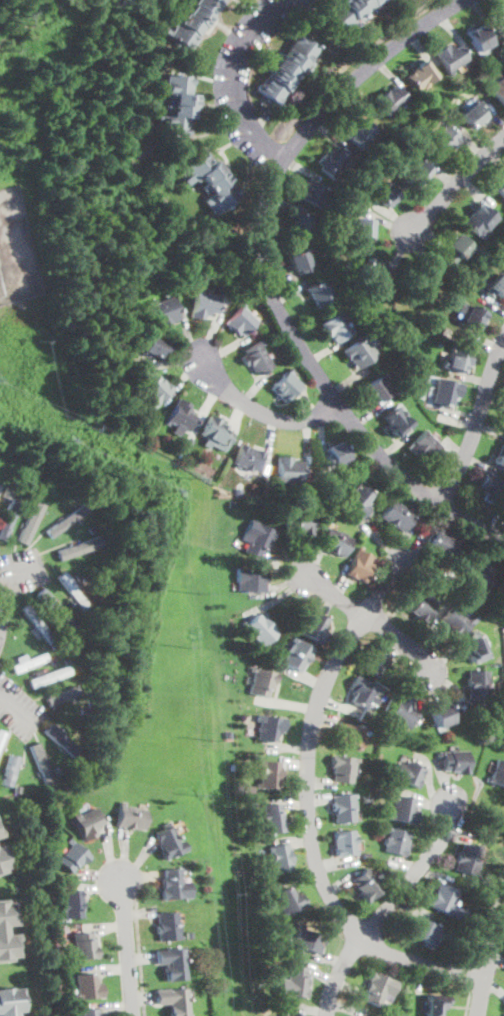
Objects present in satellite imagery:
building: (348, 12)
building: (193, 22)
building: (478, 38)
building: (450, 57)
building: (286, 70)
building: (420, 75)
road: (236, 80)
building: (498, 89)
building: (391, 101)
building: (178, 104)
building: (473, 114)
building: (357, 132)
building: (444, 139)
building: (333, 161)
building: (415, 172)
building: (212, 181)
road: (457, 184)
building: (500, 189)
building: (311, 194)
building: (385, 195)
building: (343, 203)
building: (478, 219)
building: (301, 225)
building: (362, 228)
building: (456, 248)
building: (299, 261)
building: (344, 264)
building: (371, 270)
road: (266, 276)
building: (424, 279)
building: (496, 287)
building: (319, 293)
building: (206, 303)
building: (462, 307)
building: (165, 310)
building: (474, 317)
building: (241, 321)
building: (336, 326)
building: (401, 335)
building: (153, 347)
building: (359, 352)
building: (256, 358)
building: (457, 360)
building: (419, 378)
building: (286, 386)
building: (379, 386)
building: (156, 392)
building: (445, 393)
road: (257, 410)
building: (181, 417)
building: (397, 421)
road: (477, 422)
building: (215, 433)
building: (188, 441)
building: (425, 446)
building: (334, 454)
building: (248, 458)
building: (500, 459)
building: (289, 470)
building: (491, 489)
building: (237, 490)
building: (6, 491)
building: (358, 500)
building: (397, 516)
building: (8, 517)
building: (66, 518)
building: (29, 520)
building: (298, 521)
building: (256, 538)
building: (333, 540)
building: (442, 544)
building: (62, 552)
building: (359, 565)
parking lot: (24, 569)
road: (20, 570)
building: (478, 580)
building: (249, 581)
building: (68, 585)
building: (421, 606)
building: (53, 608)
building: (40, 615)
building: (458, 620)
road: (372, 621)
building: (37, 624)
building: (313, 627)
building: (259, 628)
building: (56, 634)
building: (476, 649)
building: (298, 654)
building: (52, 659)
building: (374, 660)
building: (29, 661)
building: (74, 666)
building: (49, 676)
building: (390, 677)
building: (261, 681)
building: (478, 685)
building: (361, 691)
building: (62, 695)
parking lot: (18, 708)
road: (18, 712)
building: (401, 712)
building: (439, 714)
building: (268, 726)
building: (227, 734)
building: (348, 735)
building: (2, 736)
building: (64, 743)
building: (454, 760)
building: (38, 763)
building: (342, 769)
building: (9, 772)
building: (407, 773)
building: (50, 774)
building: (269, 774)
building: (497, 774)
building: (17, 788)
building: (365, 798)
road: (308, 803)
building: (343, 807)
building: (402, 810)
building: (131, 817)
building: (272, 819)
building: (87, 822)
building: (1, 834)
building: (395, 841)
building: (168, 842)
building: (344, 843)
building: (365, 854)
building: (72, 856)
building: (3, 858)
building: (279, 859)
building: (467, 860)
building: (365, 884)
building: (174, 885)
building: (443, 900)
building: (288, 901)
building: (72, 903)
road: (387, 908)
road: (489, 921)
building: (167, 926)
building: (3, 929)
building: (423, 931)
building: (308, 939)
building: (83, 946)
road: (129, 948)
road: (139, 961)
building: (172, 963)
road: (489, 969)
road: (471, 976)
building: (293, 983)
building: (87, 988)
building: (379, 989)
building: (173, 1000)
road: (468, 1001)
building: (11, 1002)
building: (435, 1005)
building: (88, 1012)
building: (290, 1014)

